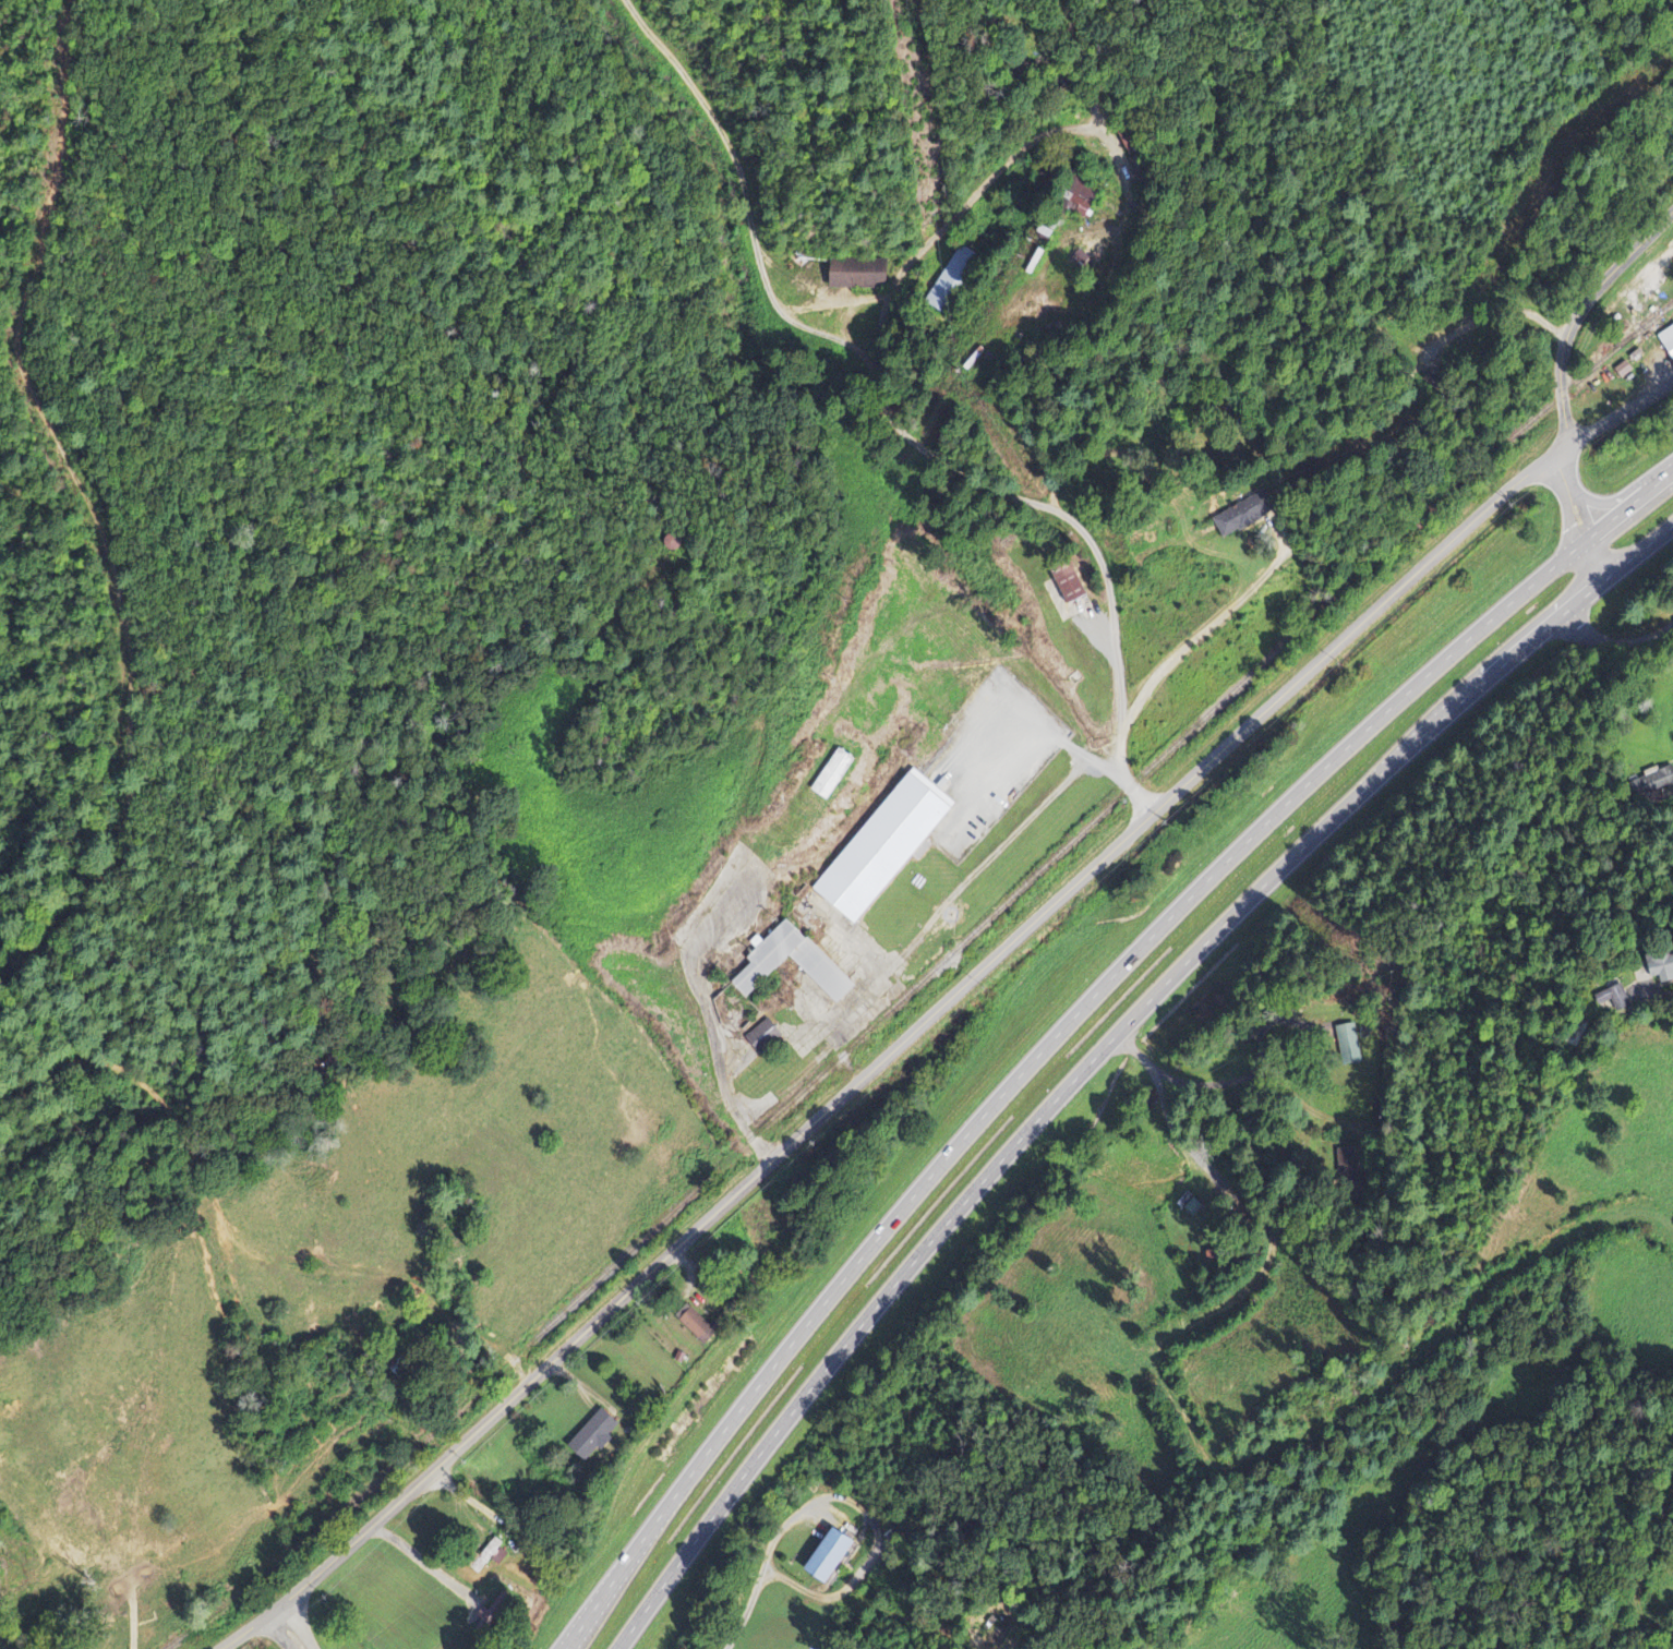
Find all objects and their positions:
road: (1637, 109)
building: (1064, 205)
road: (1580, 226)
road: (1357, 242)
building: (857, 275)
building: (949, 278)
road: (1579, 312)
building: (1665, 341)
road: (1620, 412)
building: (1238, 518)
road: (1097, 544)
building: (1068, 583)
building: (830, 775)
building: (880, 847)
building: (762, 962)
building: (1654, 966)
railway: (922, 978)
building: (1603, 999)
road: (944, 1002)
road: (715, 1009)
road: (1074, 1016)
building: (761, 1038)
road: (1105, 1048)
building: (691, 1324)
building: (589, 1436)
building: (821, 1558)
road: (137, 1610)
road: (292, 1629)

